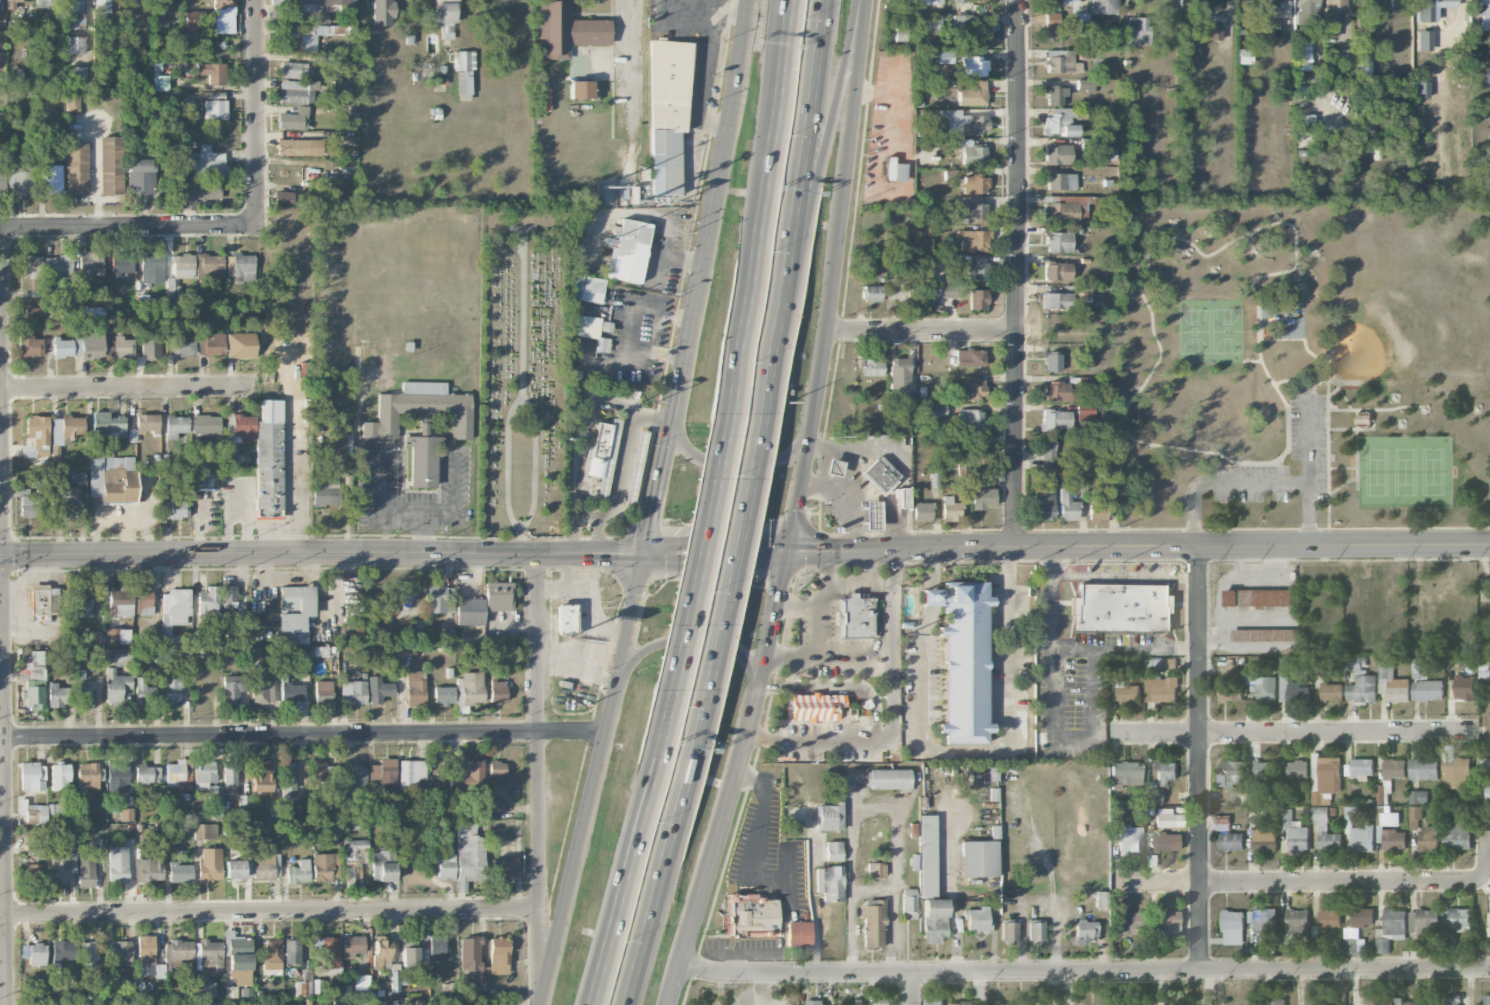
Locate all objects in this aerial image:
building: (962, 1)
building: (1070, 2)
building: (45, 3)
building: (160, 3)
building: (102, 4)
building: (327, 4)
building: (1268, 4)
building: (11, 5)
building: (1395, 5)
building: (223, 7)
building: (1103, 7)
building: (277, 9)
building: (382, 12)
building: (1305, 12)
building: (1481, 12)
building: (1334, 14)
building: (136, 15)
building: (445, 17)
building: (1079, 19)
building: (934, 22)
building: (962, 22)
building: (982, 22)
building: (1051, 22)
building: (196, 24)
building: (566, 30)
building: (1137, 30)
building: (1214, 32)
building: (901, 34)
building: (304, 37)
building: (74, 45)
road: (629, 51)
building: (1244, 56)
building: (943, 57)
building: (1344, 59)
building: (1364, 61)
building: (1062, 62)
building: (972, 67)
building: (464, 71)
building: (211, 72)
building: (80, 78)
building: (160, 82)
building: (295, 84)
building: (1086, 85)
building: (342, 87)
road: (769, 92)
building: (972, 93)
building: (1055, 95)
building: (176, 99)
building: (74, 102)
building: (214, 107)
road: (258, 113)
building: (667, 118)
building: (293, 119)
building: (1306, 120)
building: (1061, 122)
building: (966, 123)
building: (299, 147)
building: (970, 151)
building: (1057, 154)
building: (1109, 154)
road: (800, 160)
road: (819, 160)
building: (208, 163)
building: (111, 165)
building: (76, 168)
building: (894, 170)
building: (140, 176)
building: (950, 176)
building: (53, 179)
building: (19, 181)
building: (1062, 181)
building: (2, 183)
building: (975, 184)
building: (197, 192)
road: (761, 196)
building: (283, 199)
building: (1065, 209)
building: (967, 212)
road: (129, 227)
building: (973, 239)
road: (666, 241)
building: (1058, 242)
building: (924, 244)
building: (627, 252)
building: (151, 264)
building: (58, 265)
building: (121, 265)
building: (30, 266)
building: (90, 266)
building: (183, 266)
building: (209, 266)
building: (240, 268)
building: (976, 268)
road: (659, 270)
building: (1057, 271)
road: (1019, 272)
building: (586, 288)
building: (900, 289)
building: (945, 291)
building: (871, 293)
building: (977, 299)
building: (1057, 300)
building: (604, 326)
building: (587, 327)
park: (1380, 330)
road: (925, 331)
park: (1194, 331)
park: (1227, 331)
building: (208, 338)
building: (92, 344)
building: (183, 344)
building: (29, 345)
building: (240, 345)
building: (602, 345)
building: (109, 346)
building: (62, 347)
building: (123, 347)
building: (969, 358)
building: (1052, 362)
road: (769, 363)
park: (1304, 364)
building: (873, 367)
park: (523, 368)
building: (899, 372)
road: (1299, 383)
road: (1309, 386)
road: (129, 388)
building: (973, 389)
building: (1056, 391)
building: (907, 403)
building: (420, 409)
road: (1374, 409)
building: (936, 410)
building: (300, 415)
road: (653, 415)
road: (1328, 415)
road: (1318, 418)
building: (1364, 419)
building: (970, 420)
building: (1055, 420)
building: (147, 423)
building: (108, 424)
building: (205, 424)
parking lot: (1309, 424)
building: (175, 426)
building: (241, 427)
road: (1360, 428)
building: (66, 429)
road: (580, 439)
building: (342, 442)
road: (1170, 447)
road: (1356, 448)
building: (602, 454)
building: (230, 458)
building: (269, 459)
building: (1048, 459)
building: (422, 460)
road: (621, 464)
road: (733, 464)
road: (1309, 465)
building: (833, 467)
gas station: (833, 467)
road: (1342, 467)
building: (635, 468)
road: (1281, 470)
park: (1376, 471)
park: (1405, 471)
park: (1433, 471)
building: (204, 473)
building: (324, 473)
building: (934, 474)
building: (879, 476)
building: (78, 477)
building: (111, 477)
road: (1223, 483)
road: (1342, 484)
building: (167, 486)
road: (290, 487)
building: (982, 488)
building: (326, 492)
building: (63, 493)
building: (903, 497)
road: (653, 504)
building: (1043, 504)
building: (1067, 505)
building: (31, 506)
road: (796, 508)
building: (179, 509)
building: (950, 510)
building: (1097, 511)
building: (921, 512)
building: (871, 514)
gas station: (871, 514)
road: (403, 519)
road: (576, 525)
road: (598, 534)
road: (701, 541)
road: (1138, 545)
road: (733, 550)
traffic signals: (788, 550)
traffic signals: (642, 553)
road: (394, 554)
road: (862, 567)
road: (932, 568)
road: (824, 569)
road: (1125, 575)
building: (1486, 589)
building: (406, 593)
building: (228, 595)
building: (498, 596)
road: (931, 597)
building: (1258, 597)
building: (440, 599)
building: (39, 600)
building: (53, 600)
building: (80, 601)
building: (143, 601)
building: (121, 602)
building: (209, 603)
road: (796, 606)
building: (1119, 608)
building: (174, 611)
road: (877, 612)
building: (294, 614)
road: (4, 616)
building: (853, 616)
building: (566, 618)
building: (1264, 634)
building: (445, 635)
building: (112, 636)
building: (95, 638)
road: (688, 641)
road: (1071, 650)
building: (152, 655)
building: (121, 658)
building: (962, 660)
building: (1156, 662)
building: (1170, 662)
building: (34, 681)
building: (1361, 681)
building: (1393, 683)
building: (1426, 684)
building: (1292, 685)
building: (115, 686)
building: (1263, 686)
building: (233, 687)
building: (414, 687)
building: (472, 687)
building: (1465, 687)
building: (1123, 688)
building: (378, 689)
building: (1162, 689)
building: (174, 691)
building: (497, 691)
building: (1332, 691)
building: (83, 692)
building: (144, 692)
building: (263, 692)
building: (292, 692)
building: (353, 692)
building: (323, 693)
building: (58, 695)
building: (443, 695)
building: (812, 706)
road: (877, 724)
road: (1296, 730)
road: (301, 733)
road: (1074, 737)
road: (995, 750)
road: (1198, 756)
building: (1485, 764)
building: (1298, 768)
building: (1362, 768)
building: (1395, 768)
building: (1424, 768)
building: (496, 769)
building: (1264, 769)
building: (1455, 769)
building: (1165, 771)
building: (382, 773)
building: (458, 773)
building: (1124, 773)
building: (147, 774)
building: (179, 774)
building: (204, 774)
building: (412, 774)
building: (1230, 774)
building: (87, 775)
building: (230, 775)
building: (32, 776)
building: (261, 776)
building: (358, 776)
building: (60, 777)
building: (117, 777)
road: (541, 779)
building: (888, 779)
building: (1326, 779)
building: (288, 780)
building: (1488, 788)
building: (1383, 794)
building: (1418, 796)
building: (1154, 797)
building: (216, 800)
building: (244, 801)
building: (495, 805)
building: (36, 814)
building: (126, 814)
building: (828, 817)
building: (1415, 817)
building: (1167, 818)
road: (876, 820)
building: (1223, 822)
building: (1380, 822)
road: (1488, 824)
building: (1325, 829)
building: (207, 831)
building: (1294, 831)
building: (1358, 831)
building: (1458, 834)
building: (1429, 838)
building: (1129, 839)
building: (1394, 839)
building: (1265, 840)
building: (1232, 841)
building: (1166, 842)
building: (35, 848)
road: (631, 848)
road: (665, 850)
building: (833, 851)
building: (470, 853)
building: (928, 855)
building: (978, 858)
building: (355, 859)
building: (265, 863)
building: (118, 864)
building: (210, 865)
building: (382, 865)
building: (61, 866)
building: (325, 866)
building: (445, 866)
building: (150, 867)
building: (502, 868)
building: (876, 869)
building: (86, 870)
building: (238, 870)
building: (34, 872)
building: (180, 872)
building: (299, 872)
road: (1050, 878)
road: (1321, 880)
building: (829, 883)
road: (959, 893)
road: (811, 894)
building: (1099, 900)
building: (908, 904)
road: (270, 912)
building: (752, 916)
building: (1331, 918)
building: (1265, 919)
building: (1457, 919)
building: (934, 920)
building: (977, 920)
building: (1166, 921)
building: (1297, 921)
building: (1424, 921)
building: (1126, 922)
building: (1489, 922)
building: (872, 923)
building: (1393, 923)
building: (1233, 927)
building: (1358, 930)
building: (1009, 931)
building: (1035, 931)
building: (1084, 931)
building: (1316, 933)
building: (798, 935)
building: (1384, 945)
building: (352, 946)
building: (436, 948)
building: (273, 949)
building: (64, 950)
building: (145, 950)
building: (120, 951)
building: (292, 951)
building: (34, 953)
building: (87, 953)
building: (329, 953)
building: (381, 954)
building: (409, 954)
building: (469, 954)
building: (498, 955)
building: (173, 956)
building: (208, 957)
building: (239, 958)
road: (1083, 969)
building: (394, 981)
building: (304, 985)
building: (317, 986)
road: (979, 987)
road: (912, 988)
building: (203, 989)
building: (1389, 1000)
building: (1486, 1000)
building: (883, 1001)
building: (934, 1001)
building: (1279, 1001)
building: (1451, 1001)
building: (354, 1002)
building: (816, 1002)
building: (1413, 1002)
building: (962, 1003)
building: (208, 1004)
building: (859, 1004)
building: (999, 1004)
building: (1020, 1004)

